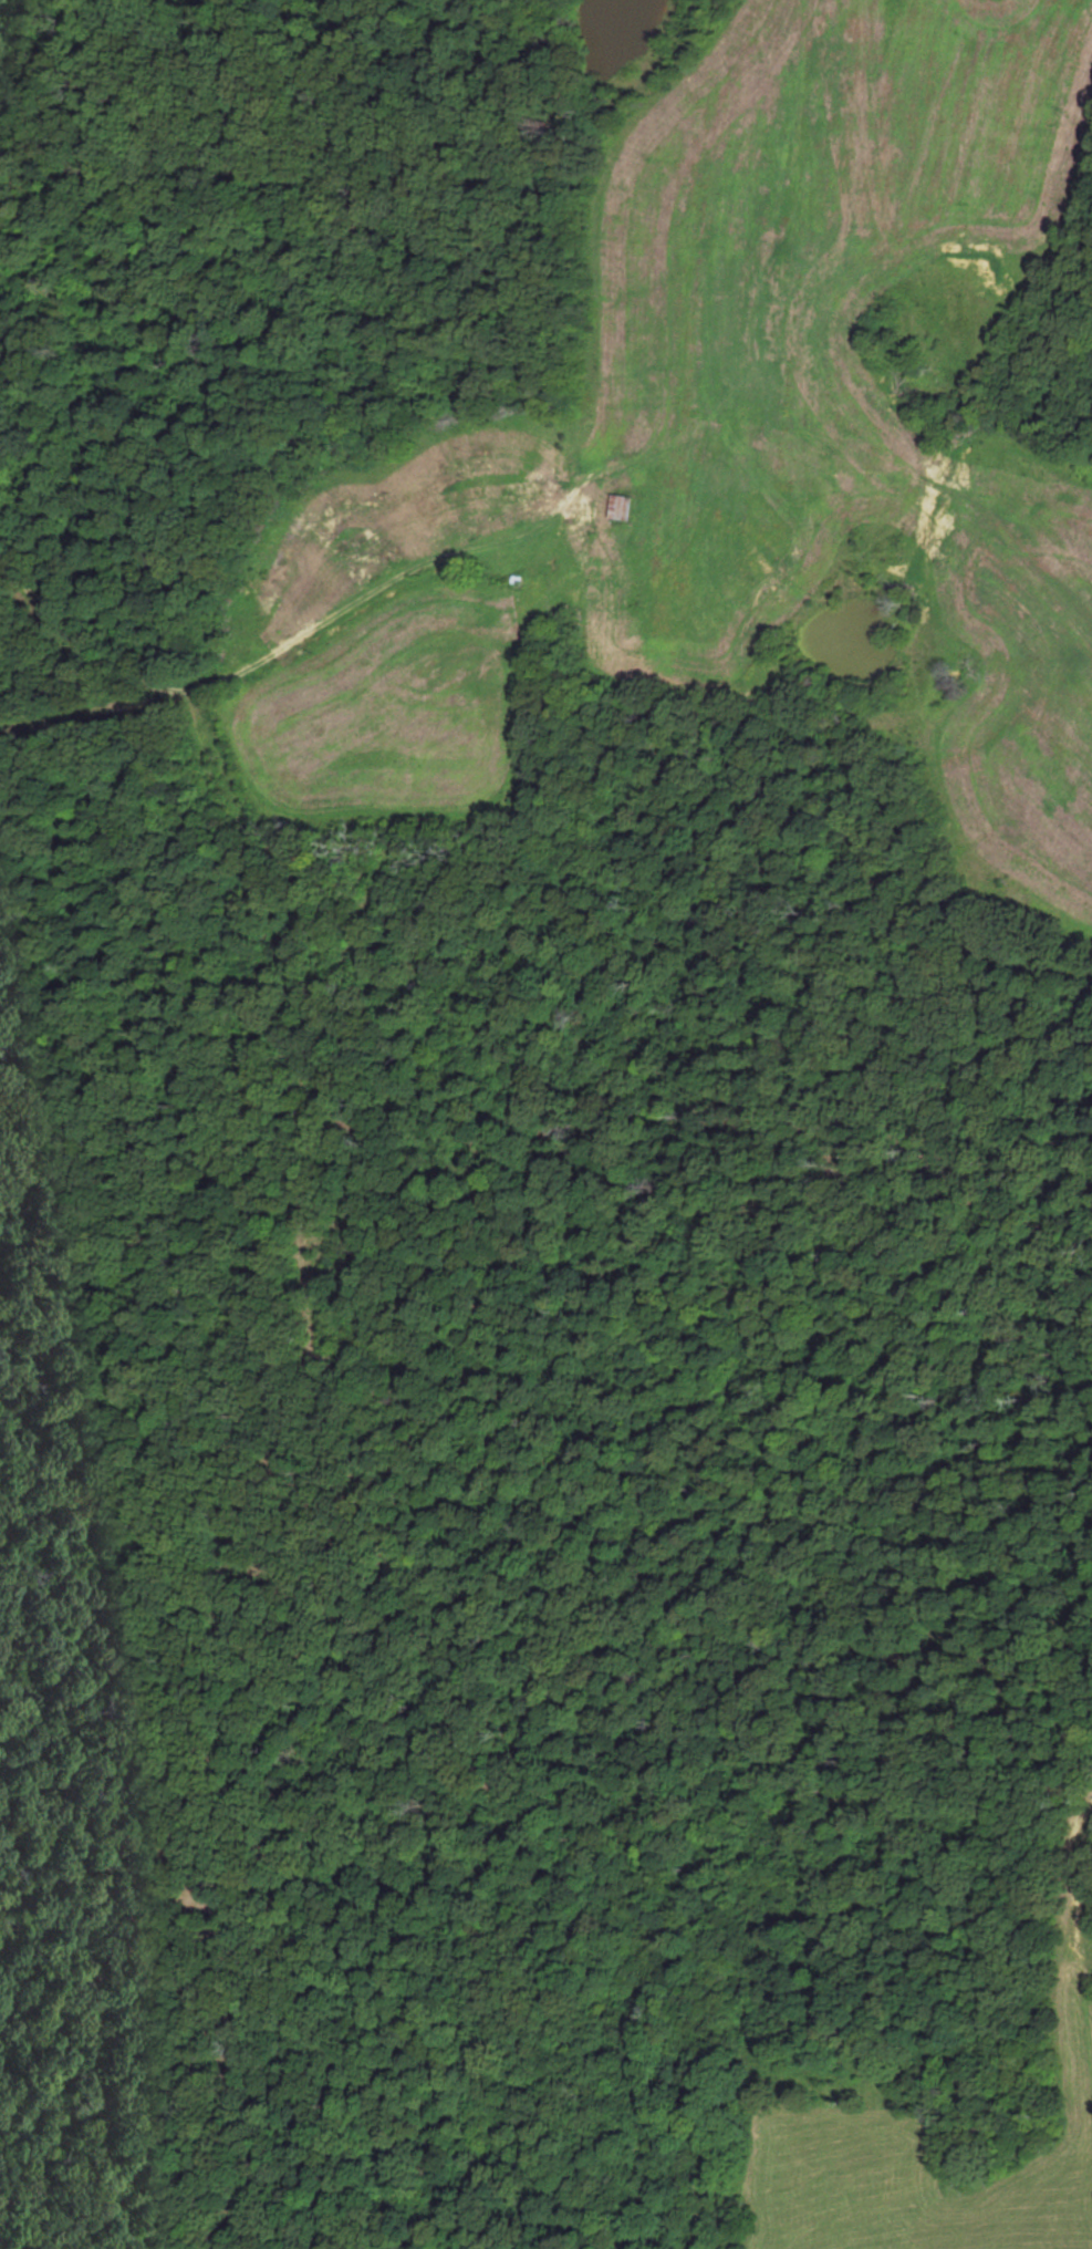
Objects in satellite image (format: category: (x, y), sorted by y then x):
building: (623, 507)
road: (256, 657)

